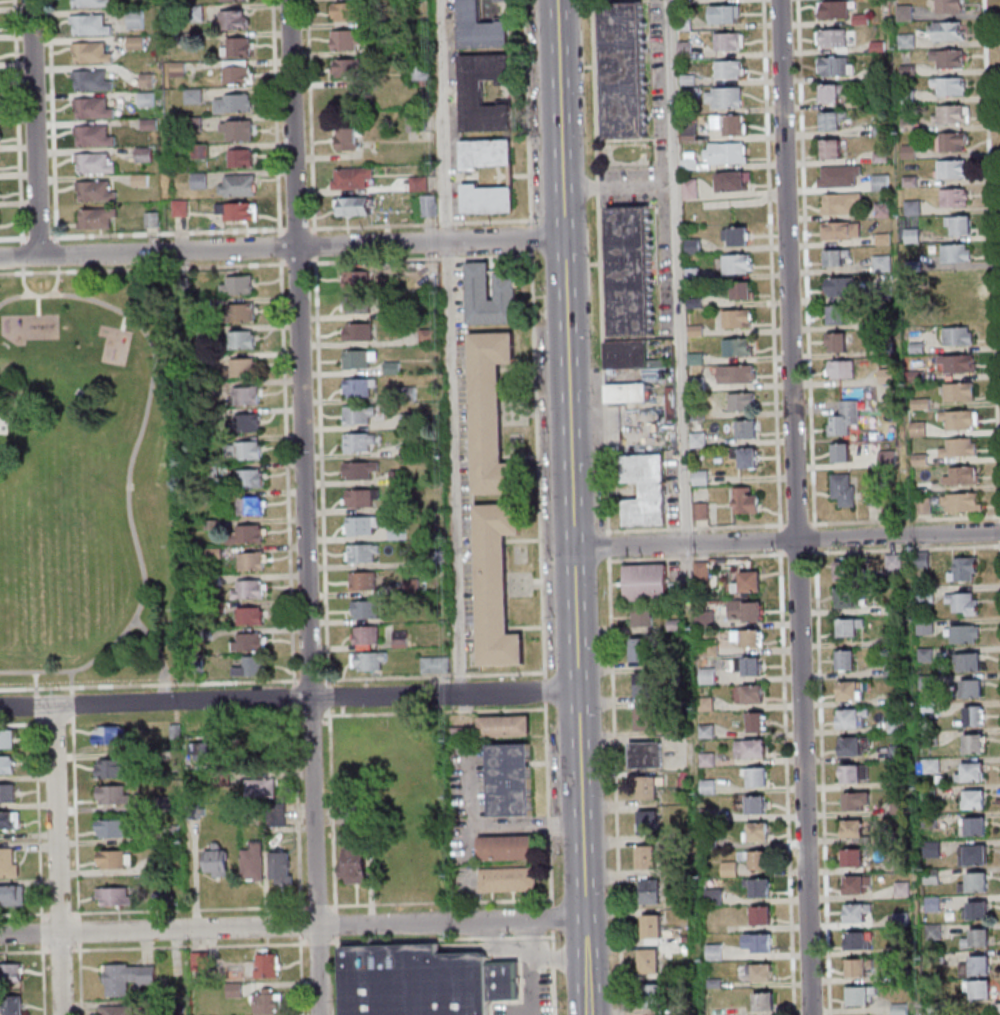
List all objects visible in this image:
building: (230, 0)
building: (91, 2)
building: (949, 6)
building: (833, 9)
building: (352, 11)
building: (725, 14)
building: (136, 19)
building: (232, 19)
building: (90, 23)
building: (483, 27)
building: (948, 31)
building: (831, 38)
building: (350, 41)
building: (729, 41)
building: (135, 42)
building: (236, 46)
building: (90, 53)
building: (948, 59)
building: (835, 66)
building: (177, 68)
building: (353, 68)
building: (424, 69)
building: (729, 69)
building: (627, 70)
building: (237, 71)
building: (95, 79)
building: (952, 87)
building: (474, 91)
building: (829, 93)
building: (192, 96)
building: (723, 97)
building: (233, 102)
building: (92, 107)
building: (951, 115)
road: (278, 118)
building: (832, 120)
road: (18, 121)
road: (52, 121)
building: (148, 123)
building: (420, 124)
building: (729, 124)
road: (38, 127)
building: (235, 130)
building: (92, 135)
building: (350, 139)
building: (952, 143)
building: (832, 148)
building: (200, 150)
building: (488, 153)
building: (725, 153)
building: (144, 154)
building: (240, 157)
building: (95, 162)
building: (952, 170)
parking lot: (654, 175)
building: (839, 176)
building: (355, 178)
building: (140, 179)
building: (199, 180)
building: (732, 181)
building: (880, 182)
building: (421, 183)
building: (238, 184)
road: (623, 188)
building: (690, 189)
building: (93, 191)
building: (955, 199)
building: (490, 200)
road: (993, 201)
building: (840, 203)
building: (358, 206)
building: (431, 206)
building: (236, 210)
building: (96, 218)
building: (152, 218)
building: (959, 226)
road: (294, 229)
building: (840, 230)
road: (169, 233)
building: (735, 235)
road: (38, 237)
road: (13, 238)
road: (534, 244)
road: (283, 247)
road: (283, 247)
road: (318, 251)
road: (56, 253)
building: (955, 253)
road: (21, 255)
building: (835, 257)
road: (423, 259)
building: (882, 262)
road: (301, 263)
building: (737, 263)
road: (145, 268)
building: (633, 272)
road: (681, 272)
road: (55, 280)
building: (359, 280)
road: (22, 283)
building: (241, 286)
building: (841, 286)
building: (188, 287)
building: (481, 290)
building: (741, 290)
building: (208, 304)
building: (360, 304)
road: (37, 305)
building: (960, 308)
building: (390, 313)
building: (243, 314)
building: (837, 315)
building: (736, 319)
road: (122, 321)
building: (209, 332)
building: (362, 332)
building: (958, 335)
building: (431, 337)
building: (244, 341)
building: (836, 343)
road: (454, 346)
building: (736, 348)
building: (632, 357)
building: (212, 359)
building: (362, 359)
building: (958, 363)
building: (245, 369)
building: (395, 369)
building: (841, 369)
building: (735, 375)
building: (209, 387)
building: (362, 388)
building: (958, 391)
building: (626, 392)
building: (411, 394)
building: (247, 397)
building: (741, 403)
building: (493, 414)
building: (361, 415)
building: (844, 417)
building: (958, 418)
building: (411, 421)
building: (248, 424)
building: (918, 428)
building: (747, 430)
building: (362, 442)
building: (959, 447)
building: (414, 449)
building: (247, 452)
building: (840, 452)
building: (745, 457)
road: (541, 464)
building: (363, 470)
road: (324, 471)
building: (214, 472)
road: (130, 473)
road: (290, 473)
building: (964, 474)
building: (700, 477)
building: (400, 478)
building: (253, 479)
park: (87, 482)
building: (647, 489)
building: (842, 489)
building: (217, 497)
building: (365, 498)
building: (744, 500)
building: (962, 501)
building: (922, 506)
building: (255, 507)
road: (308, 507)
building: (400, 507)
road: (577, 507)
road: (606, 507)
road: (794, 507)
building: (703, 510)
building: (215, 526)
building: (365, 526)
building: (400, 532)
building: (249, 535)
road: (789, 540)
building: (367, 553)
building: (217, 554)
building: (442, 558)
building: (254, 562)
building: (893, 562)
building: (964, 569)
building: (846, 570)
building: (702, 571)
building: (216, 581)
building: (366, 581)
building: (646, 582)
building: (747, 583)
building: (498, 586)
building: (413, 587)
building: (253, 591)
building: (845, 596)
building: (963, 602)
building: (220, 609)
building: (369, 610)
building: (744, 612)
building: (641, 616)
building: (254, 617)
building: (705, 621)
building: (849, 627)
building: (965, 633)
building: (208, 635)
building: (370, 636)
building: (747, 639)
building: (404, 640)
building: (253, 644)
building: (709, 648)
building: (640, 649)
road: (159, 657)
building: (845, 659)
building: (372, 661)
building: (968, 661)
building: (438, 665)
building: (748, 666)
building: (201, 668)
building: (254, 668)
road: (436, 676)
road: (70, 681)
road: (315, 681)
road: (34, 683)
road: (151, 683)
building: (643, 684)
building: (971, 688)
building: (850, 690)
road: (548, 691)
building: (752, 694)
road: (338, 696)
road: (290, 699)
road: (297, 699)
road: (70, 704)
road: (35, 708)
road: (346, 710)
road: (341, 715)
building: (974, 715)
building: (851, 717)
building: (645, 718)
road: (68, 720)
building: (755, 721)
road: (56, 722)
road: (301, 723)
road: (314, 723)
road: (328, 723)
road: (22, 724)
building: (507, 728)
building: (178, 732)
building: (467, 733)
building: (112, 737)
building: (8, 740)
building: (974, 743)
building: (854, 745)
building: (750, 748)
building: (205, 753)
building: (646, 754)
building: (8, 766)
building: (114, 769)
building: (971, 771)
building: (854, 773)
building: (756, 776)
road: (697, 777)
building: (225, 779)
building: (513, 782)
building: (647, 787)
building: (264, 789)
building: (9, 795)
building: (116, 796)
building: (973, 799)
building: (856, 800)
building: (167, 804)
road: (551, 805)
building: (755, 805)
building: (258, 810)
road: (300, 811)
building: (196, 813)
building: (361, 813)
building: (280, 816)
road: (78, 818)
building: (11, 821)
road: (41, 821)
building: (647, 821)
road: (492, 822)
building: (973, 826)
building: (852, 828)
building: (115, 830)
building: (757, 832)
building: (175, 834)
building: (509, 849)
building: (932, 849)
building: (973, 854)
building: (647, 857)
building: (852, 857)
building: (117, 860)
building: (758, 860)
road: (60, 861)
building: (220, 862)
building: (256, 862)
building: (162, 863)
building: (9, 864)
building: (357, 866)
building: (284, 869)
building: (510, 880)
building: (529, 880)
building: (492, 881)
building: (975, 882)
building: (857, 884)
building: (757, 887)
building: (650, 891)
building: (13, 897)
building: (118, 898)
road: (442, 902)
road: (321, 906)
building: (975, 909)
road: (191, 910)
building: (857, 912)
road: (26, 915)
road: (62, 915)
building: (761, 915)
road: (555, 919)
road: (303, 924)
road: (338, 925)
road: (294, 926)
building: (651, 926)
road: (45, 933)
road: (83, 933)
building: (977, 938)
road: (442, 939)
road: (555, 940)
building: (857, 940)
building: (757, 942)
road: (321, 943)
road: (193, 947)
road: (63, 950)
road: (26, 951)
road: (560, 957)
road: (556, 959)
building: (649, 961)
building: (203, 962)
building: (976, 966)
building: (859, 967)
building: (270, 968)
building: (12, 973)
building: (759, 973)
road: (304, 975)
road: (339, 975)
road: (46, 979)
road: (83, 979)
building: (130, 979)
building: (425, 981)
road: (531, 986)
building: (978, 989)
building: (237, 991)
road: (555, 991)
building: (859, 995)
parking lot: (532, 998)
building: (271, 1003)
building: (763, 1003)
building: (153, 1005)
building: (16, 1006)
building: (899, 1009)
building: (120, 1011)

